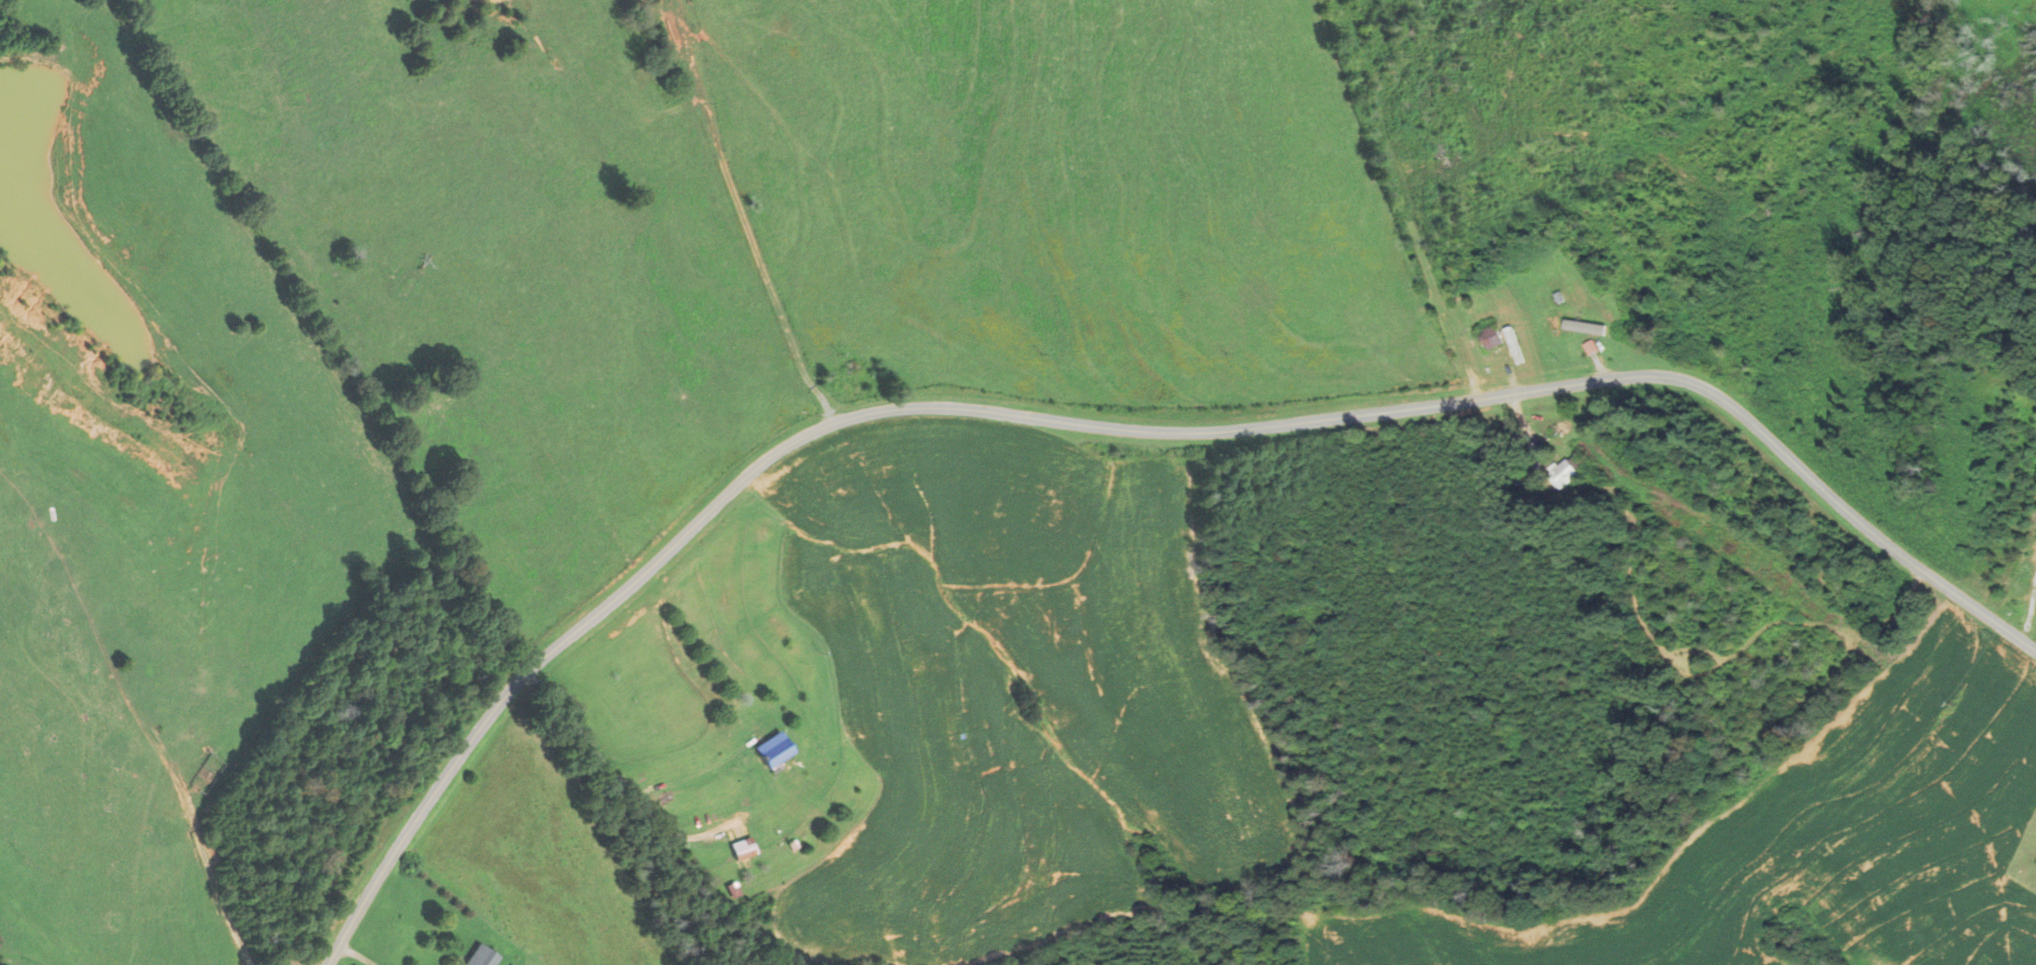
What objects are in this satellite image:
building: (1578, 324)
building: (1499, 338)
building: (1588, 344)
building: (1519, 345)
road: (1105, 427)
building: (1564, 473)
road: (2031, 607)
building: (773, 749)
road: (611, 770)
building: (743, 848)
building: (479, 956)

